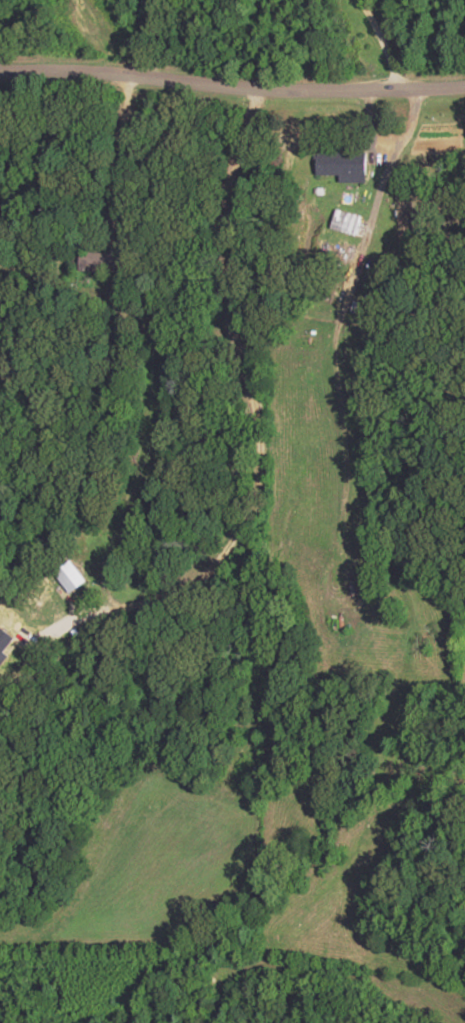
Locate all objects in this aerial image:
road: (232, 86)
building: (344, 165)
building: (348, 223)
building: (103, 262)
building: (6, 657)

